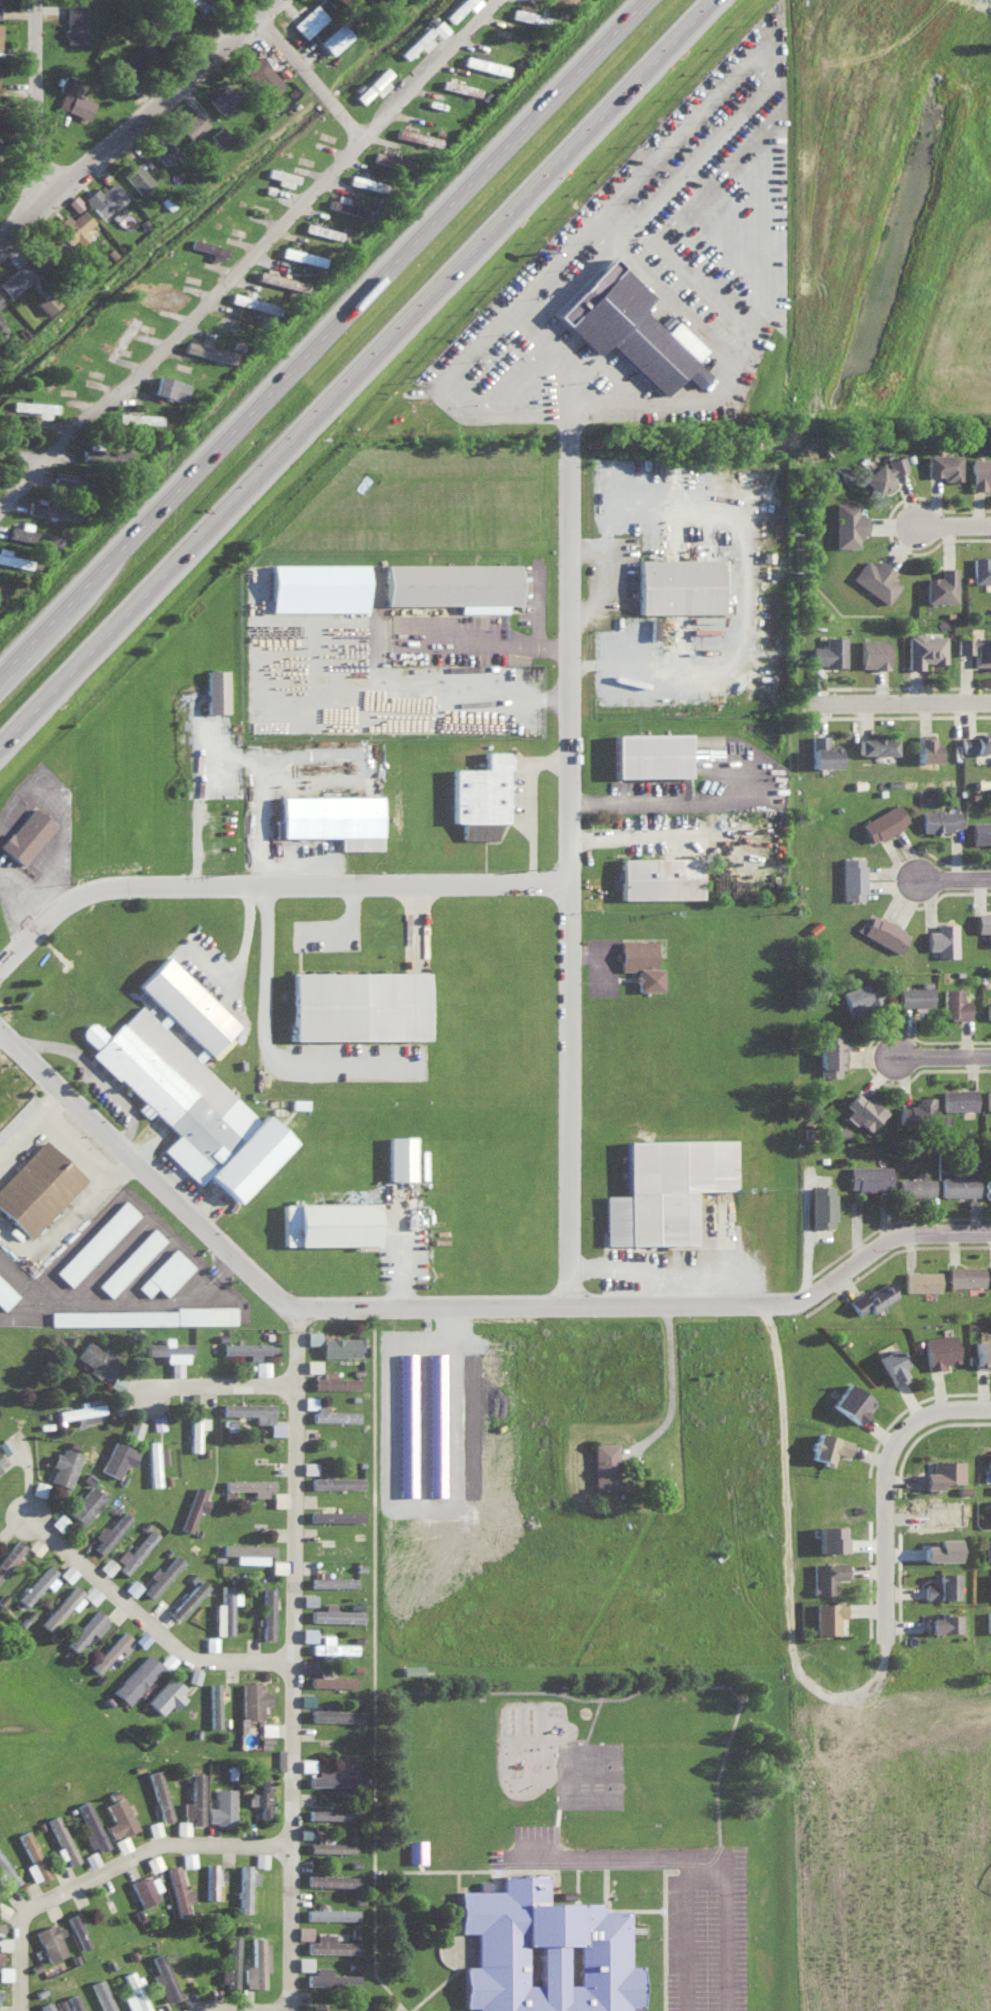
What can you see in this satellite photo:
building: (206, 1)
building: (458, 8)
building: (0, 9)
building: (529, 14)
building: (309, 20)
building: (74, 22)
building: (173, 23)
building: (439, 27)
building: (0, 36)
building: (334, 37)
building: (417, 42)
building: (137, 59)
building: (485, 64)
road: (425, 67)
building: (262, 75)
road: (313, 78)
road: (748, 78)
building: (374, 84)
building: (459, 86)
building: (73, 98)
building: (221, 98)
road: (46, 108)
building: (192, 124)
road: (144, 129)
building: (417, 136)
building: (164, 148)
building: (391, 159)
building: (282, 176)
building: (137, 177)
building: (365, 182)
building: (103, 196)
building: (74, 202)
building: (344, 206)
building: (72, 226)
building: (322, 229)
road: (619, 239)
building: (209, 248)
building: (301, 254)
road: (386, 269)
building: (15, 278)
building: (281, 279)
building: (160, 294)
building: (0, 300)
building: (254, 302)
building: (1, 321)
road: (183, 324)
building: (632, 328)
building: (6, 339)
road: (381, 343)
building: (209, 350)
building: (170, 387)
building: (35, 406)
road: (669, 413)
building: (139, 418)
building: (944, 465)
building: (882, 473)
building: (980, 473)
building: (73, 482)
building: (52, 508)
building: (848, 523)
road: (953, 525)
building: (32, 534)
building: (13, 558)
building: (981, 569)
building: (876, 578)
building: (453, 585)
building: (679, 585)
building: (941, 585)
building: (317, 587)
road: (63, 604)
road: (743, 625)
road: (493, 644)
building: (924, 649)
building: (976, 649)
building: (829, 651)
building: (873, 653)
building: (215, 690)
road: (906, 704)
road: (26, 715)
building: (975, 743)
building: (876, 745)
building: (926, 749)
building: (823, 752)
building: (650, 754)
road: (193, 789)
building: (480, 796)
road: (528, 800)
road: (652, 801)
building: (333, 818)
building: (939, 819)
building: (883, 822)
building: (981, 831)
building: (26, 835)
road: (619, 839)
road: (570, 863)
building: (660, 877)
building: (852, 878)
road: (953, 881)
road: (270, 882)
building: (984, 924)
building: (884, 931)
building: (942, 938)
road: (265, 961)
building: (640, 961)
building: (860, 995)
building: (915, 995)
building: (954, 1002)
building: (358, 1003)
building: (988, 1008)
building: (831, 1053)
road: (941, 1058)
road: (97, 1075)
building: (188, 1081)
building: (958, 1098)
building: (988, 1098)
building: (917, 1108)
building: (863, 1110)
building: (402, 1156)
road: (146, 1170)
building: (868, 1176)
building: (958, 1183)
building: (915, 1185)
building: (37, 1186)
building: (988, 1186)
building: (665, 1188)
building: (821, 1204)
building: (328, 1222)
building: (96, 1241)
road: (871, 1250)
road: (414, 1251)
building: (130, 1260)
road: (667, 1267)
building: (165, 1272)
building: (990, 1274)
building: (965, 1275)
building: (921, 1279)
building: (6, 1293)
building: (872, 1297)
road: (527, 1305)
building: (142, 1315)
building: (312, 1336)
building: (339, 1345)
building: (248, 1347)
building: (939, 1349)
building: (170, 1352)
building: (982, 1352)
building: (98, 1358)
building: (893, 1364)
building: (261, 1366)
building: (333, 1379)
building: (117, 1381)
road: (681, 1381)
road: (216, 1387)
building: (195, 1397)
building: (852, 1401)
building: (81, 1411)
building: (255, 1413)
building: (333, 1414)
building: (157, 1420)
building: (405, 1423)
building: (134, 1426)
building: (195, 1430)
building: (5, 1444)
building: (828, 1446)
building: (117, 1457)
building: (988, 1458)
building: (155, 1460)
building: (1, 1464)
building: (604, 1464)
building: (63, 1465)
building: (308, 1466)
building: (943, 1472)
building: (335, 1480)
building: (249, 1484)
road: (893, 1485)
building: (38, 1487)
building: (279, 1498)
building: (85, 1503)
road: (385, 1504)
building: (193, 1506)
building: (59, 1521)
building: (108, 1532)
building: (831, 1536)
building: (941, 1548)
building: (987, 1548)
building: (136, 1549)
building: (248, 1551)
road: (786, 1551)
building: (10, 1554)
building: (107, 1565)
building: (67, 1572)
building: (160, 1575)
building: (826, 1575)
building: (332, 1580)
building: (39, 1583)
building: (941, 1585)
building: (132, 1586)
building: (91, 1593)
building: (187, 1598)
building: (60, 1606)
building: (223, 1610)
building: (267, 1611)
building: (334, 1613)
building: (828, 1615)
building: (988, 1619)
building: (941, 1622)
road: (147, 1623)
building: (87, 1628)
building: (307, 1633)
building: (210, 1642)
building: (332, 1645)
building: (110, 1650)
road: (292, 1660)
building: (307, 1664)
building: (194, 1674)
building: (136, 1677)
building: (331, 1679)
road: (739, 1692)
building: (166, 1693)
road: (498, 1696)
building: (253, 1698)
building: (214, 1703)
building: (334, 1712)
building: (307, 1764)
building: (230, 1770)
building: (330, 1777)
park: (600, 1779)
building: (159, 1794)
building: (261, 1795)
building: (194, 1798)
building: (221, 1806)
building: (327, 1813)
building: (118, 1815)
road: (568, 1822)
building: (90, 1825)
building: (182, 1826)
building: (304, 1831)
building: (62, 1838)
building: (331, 1846)
building: (416, 1850)
parking lot: (540, 1853)
building: (428, 1854)
road: (384, 1855)
building: (32, 1857)
building: (91, 1858)
building: (187, 1858)
building: (260, 1858)
building: (153, 1861)
road: (633, 1862)
road: (431, 1871)
building: (7, 1872)
road: (536, 1874)
road: (114, 1876)
building: (212, 1879)
building: (331, 1879)
road: (587, 1880)
building: (244, 1885)
road: (566, 1886)
road: (616, 1887)
building: (145, 1888)
building: (179, 1891)
building: (330, 1912)
road: (658, 1915)
road: (735, 1919)
building: (77, 1930)
building: (303, 1932)
road: (697, 1936)
road: (675, 1937)
building: (4, 1940)
parking lot: (718, 1940)
building: (49, 1941)
building: (330, 1943)
road: (384, 1948)
road: (477, 1951)
building: (556, 1951)
road: (468, 1952)
building: (230, 1962)
building: (303, 1962)
building: (255, 1963)
building: (5, 1972)
building: (330, 1977)
building: (163, 1978)
building: (134, 1992)
building: (101, 1995)
building: (74, 2002)
building: (46, 2006)
building: (324, 2008)
road: (280, 2010)

